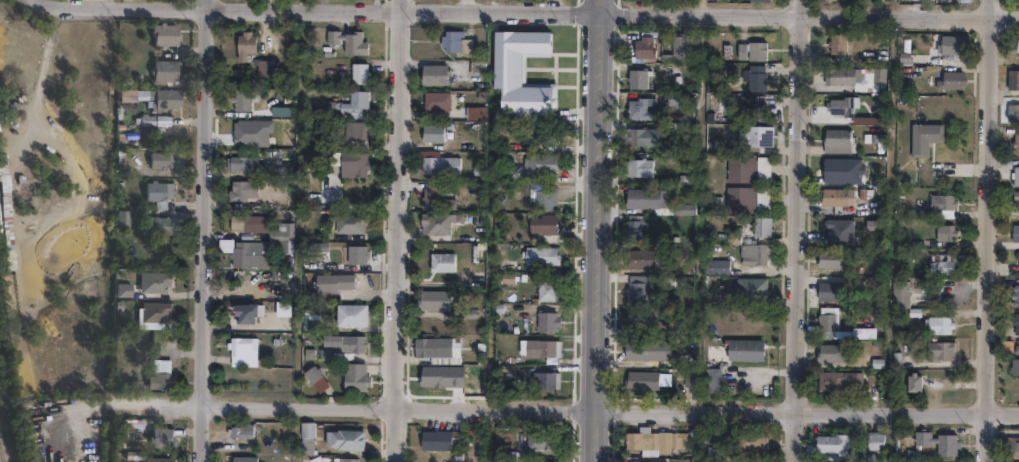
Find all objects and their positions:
building: (761, 0)
road: (524, 15)
building: (163, 36)
building: (456, 40)
building: (837, 43)
building: (350, 44)
building: (954, 45)
building: (249, 48)
building: (641, 48)
building: (1016, 48)
building: (676, 50)
building: (751, 51)
building: (478, 67)
building: (267, 71)
building: (163, 73)
building: (433, 73)
building: (362, 75)
building: (523, 75)
building: (856, 78)
building: (635, 79)
building: (756, 79)
building: (1012, 79)
building: (950, 80)
building: (436, 99)
building: (673, 99)
building: (160, 100)
building: (245, 102)
building: (360, 105)
building: (750, 108)
building: (637, 110)
building: (476, 111)
building: (850, 111)
building: (1012, 112)
building: (156, 125)
building: (432, 131)
building: (360, 132)
building: (535, 136)
building: (754, 136)
building: (640, 137)
building: (873, 137)
building: (924, 137)
building: (837, 140)
building: (1015, 143)
building: (155, 158)
building: (438, 161)
building: (539, 163)
building: (353, 165)
building: (245, 166)
building: (635, 168)
building: (747, 169)
building: (500, 173)
building: (1014, 175)
building: (240, 194)
building: (157, 195)
building: (434, 197)
building: (642, 198)
building: (544, 199)
building: (1015, 199)
building: (744, 200)
building: (835, 200)
building: (35, 202)
building: (939, 208)
building: (680, 209)
building: (4, 213)
building: (434, 224)
building: (545, 224)
building: (128, 225)
building: (247, 226)
building: (352, 226)
building: (633, 226)
building: (759, 227)
building: (156, 228)
road: (598, 230)
road: (989, 230)
road: (206, 231)
road: (400, 231)
road: (798, 231)
building: (837, 231)
building: (1014, 233)
building: (288, 235)
building: (943, 236)
building: (247, 255)
building: (751, 255)
building: (542, 256)
building: (360, 259)
building: (637, 259)
building: (443, 262)
building: (828, 262)
building: (1016, 263)
building: (713, 267)
building: (939, 268)
building: (154, 283)
building: (337, 285)
building: (898, 286)
building: (634, 287)
building: (749, 288)
building: (546, 291)
building: (1015, 291)
building: (826, 292)
building: (122, 293)
building: (902, 296)
building: (432, 298)
building: (290, 313)
building: (154, 315)
building: (245, 315)
building: (462, 315)
building: (354, 318)
building: (633, 319)
building: (547, 320)
building: (1015, 321)
building: (314, 323)
building: (825, 323)
building: (937, 328)
building: (348, 345)
building: (434, 347)
building: (536, 348)
building: (741, 348)
building: (640, 349)
building: (244, 353)
building: (937, 353)
building: (831, 354)
building: (1015, 360)
building: (315, 377)
building: (548, 379)
building: (638, 379)
building: (709, 379)
building: (160, 381)
building: (358, 382)
building: (837, 382)
building: (911, 386)
road: (555, 405)
building: (239, 431)
building: (304, 437)
building: (437, 437)
building: (161, 438)
building: (341, 439)
building: (533, 439)
building: (873, 439)
building: (937, 440)
building: (653, 441)
building: (750, 441)
building: (829, 442)
railway: (4, 444)
building: (1011, 445)
building: (144, 458)
building: (240, 459)
building: (341, 459)
building: (632, 459)
building: (61, 461)
building: (541, 461)
building: (829, 461)

